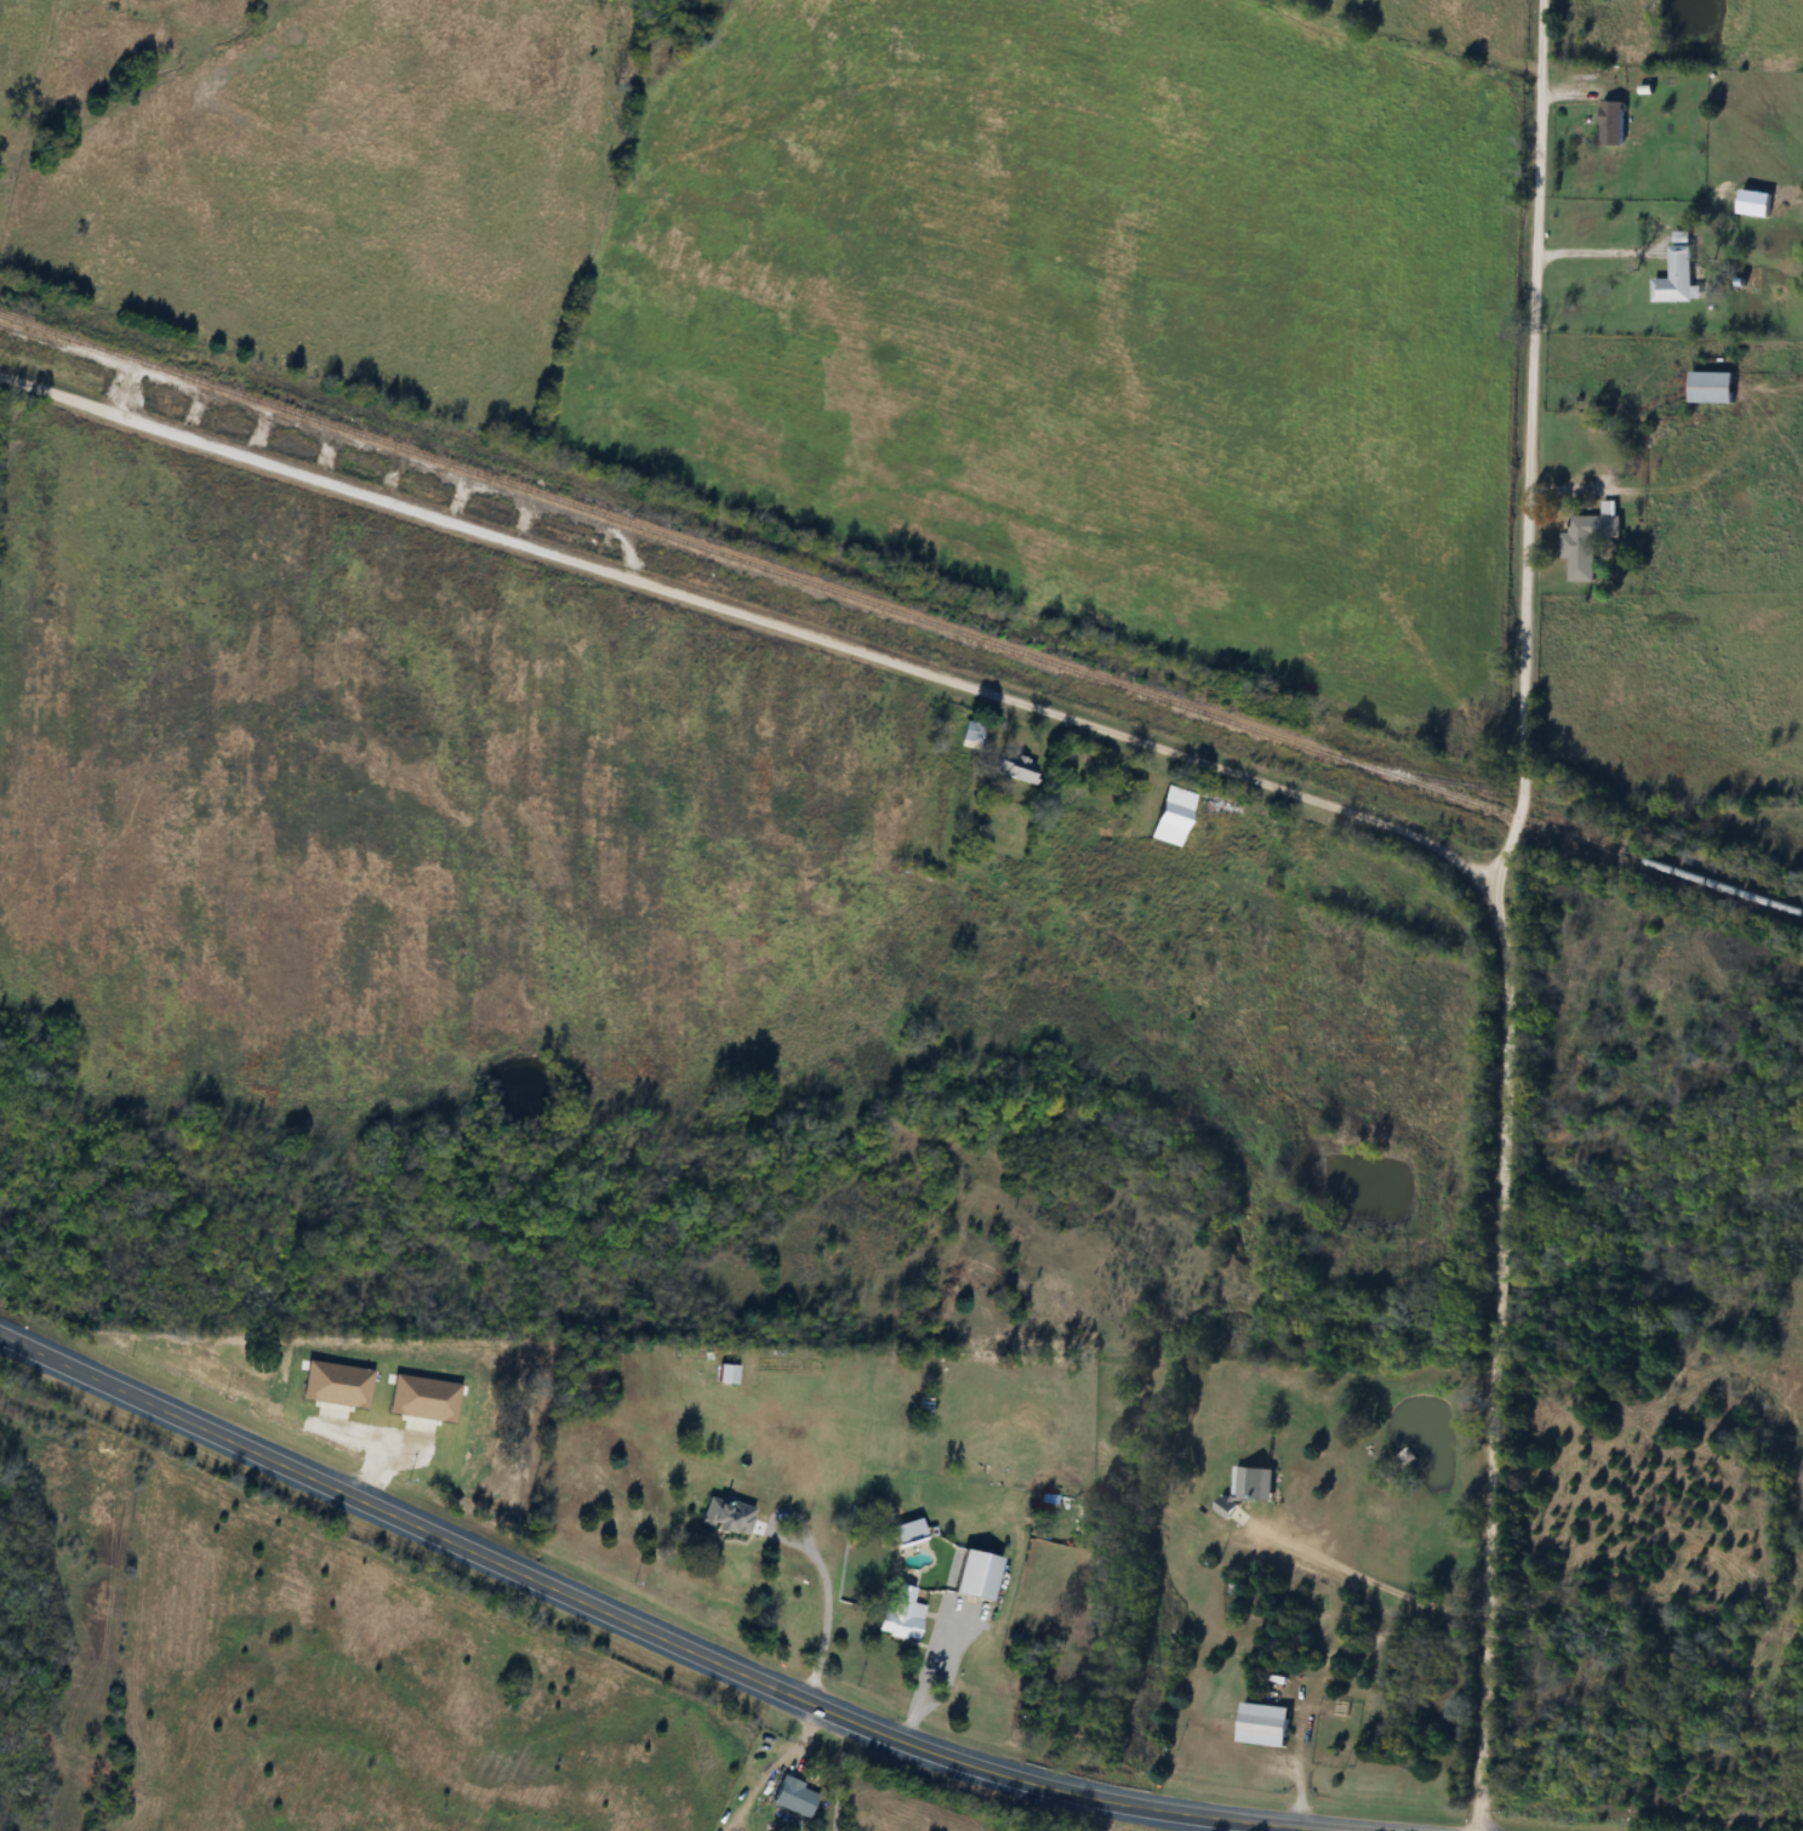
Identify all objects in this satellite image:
building: (1609, 122)
road: (1602, 250)
building: (1673, 273)
building: (1707, 388)
road: (1534, 409)
road: (398, 504)
building: (1582, 543)
railway: (901, 614)
building: (969, 735)
road: (1146, 746)
building: (1011, 768)
railway: (1573, 798)
building: (1169, 816)
road: (1495, 1318)
building: (723, 1375)
building: (1244, 1490)
road: (382, 1507)
building: (724, 1518)
building: (976, 1578)
road: (1363, 1585)
building: (898, 1612)
road: (937, 1652)
building: (1260, 1727)
road: (769, 1768)
road: (1045, 1784)
building: (792, 1798)

